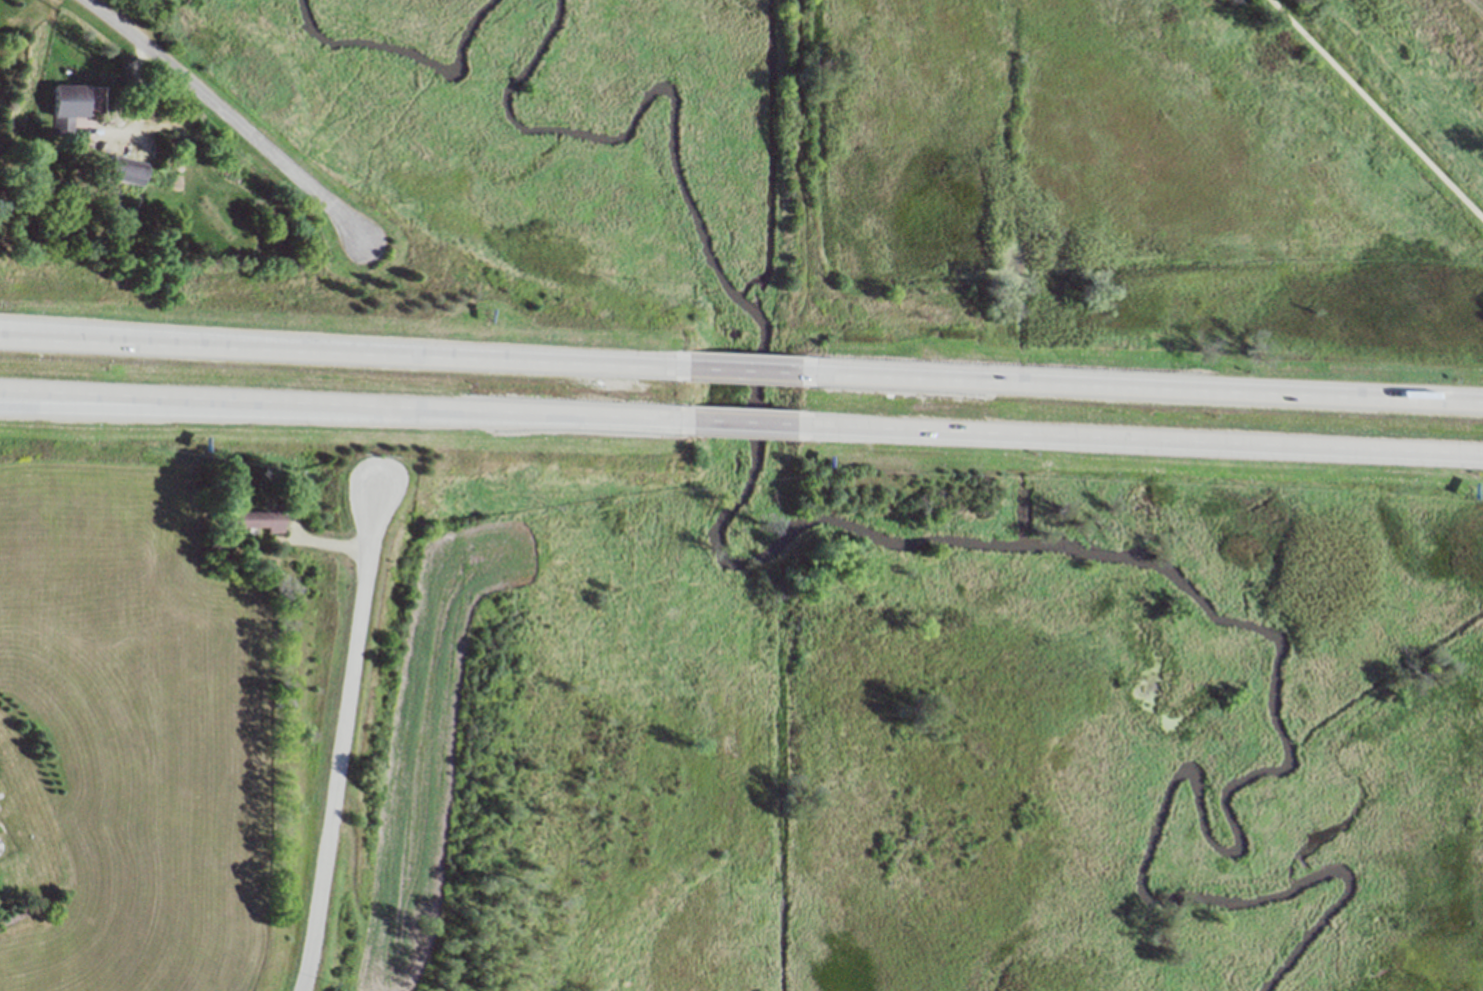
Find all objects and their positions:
park: (1430, 53)
road: (798, 82)
building: (67, 106)
road: (1374, 111)
building: (99, 117)
road: (232, 119)
road: (137, 123)
building: (127, 169)
road: (132, 336)
road: (340, 354)
road: (754, 369)
road: (1154, 387)
building: (103, 401)
road: (954, 405)
road: (344, 406)
road: (217, 410)
road: (753, 424)
road: (1150, 440)
building: (257, 517)
road: (342, 739)

